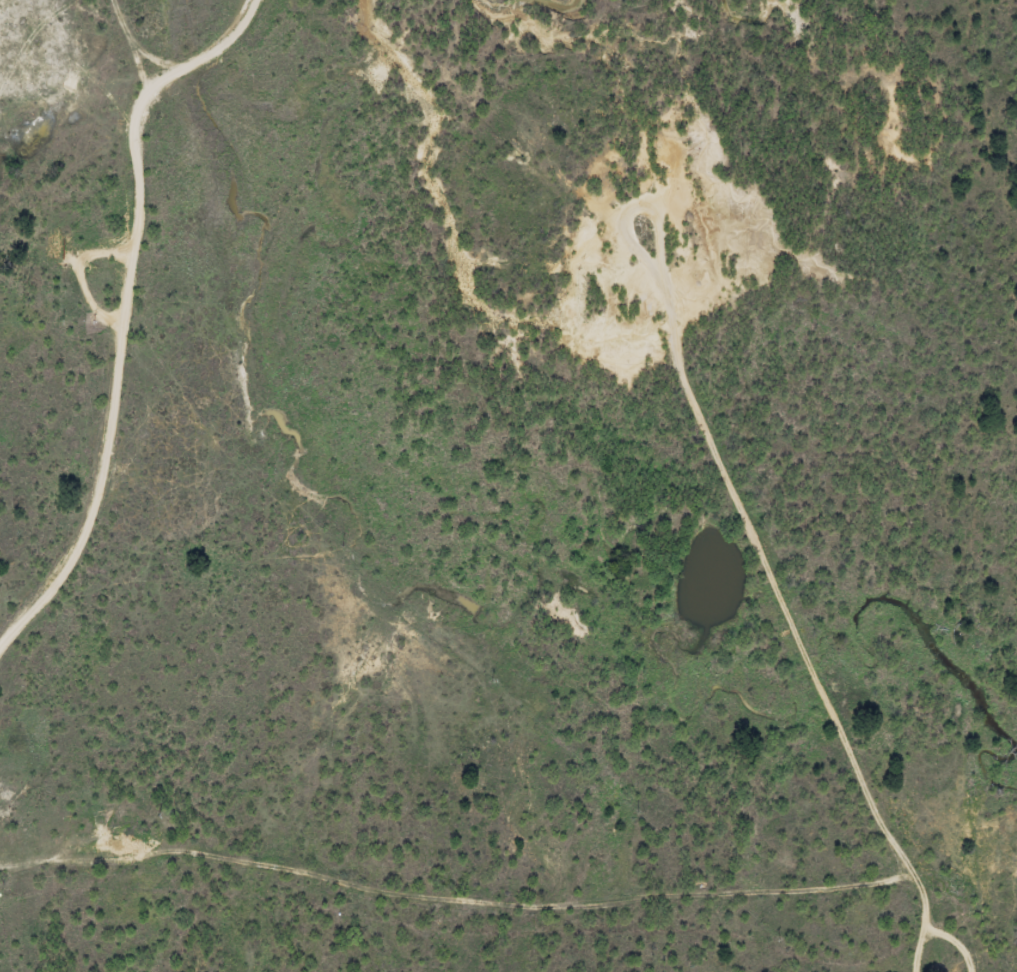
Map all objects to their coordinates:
road: (163, 370)

